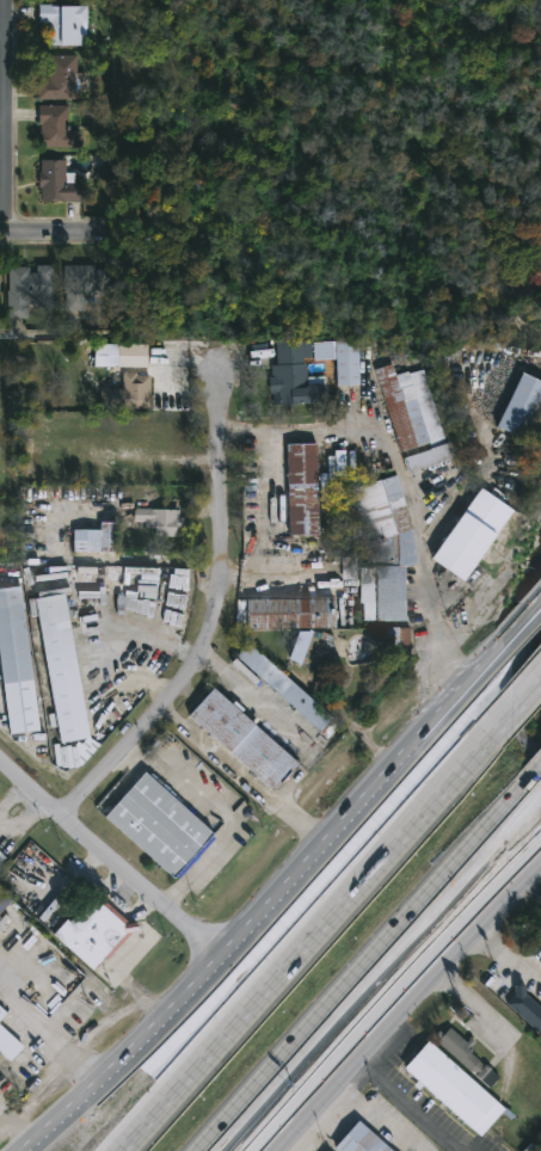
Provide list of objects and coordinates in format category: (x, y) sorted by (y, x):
building: (62, 24)
road: (2, 26)
building: (59, 78)
road: (5, 118)
road: (2, 125)
building: (53, 127)
building: (56, 183)
road: (59, 236)
building: (85, 279)
building: (25, 287)
building: (106, 356)
building: (339, 359)
building: (293, 377)
building: (128, 394)
building: (521, 406)
building: (408, 410)
building: (429, 457)
road: (407, 485)
building: (301, 491)
road: (264, 505)
building: (156, 522)
building: (472, 534)
building: (96, 540)
building: (382, 549)
road: (107, 561)
road: (273, 575)
building: (345, 575)
building: (288, 614)
road: (527, 615)
road: (216, 617)
road: (527, 620)
building: (398, 640)
building: (306, 648)
building: (14, 666)
building: (61, 685)
building: (282, 687)
road: (521, 703)
road: (266, 706)
building: (242, 740)
road: (241, 776)
road: (288, 784)
road: (225, 813)
road: (18, 819)
building: (155, 825)
building: (1, 858)
road: (111, 861)
road: (537, 876)
road: (275, 897)
building: (2, 903)
building: (92, 933)
road: (311, 938)
road: (447, 960)
road: (508, 960)
road: (377, 970)
road: (473, 1005)
building: (527, 1007)
building: (1, 1014)
building: (12, 1050)
building: (457, 1079)
road: (320, 1104)
road: (407, 1104)
road: (370, 1119)
road: (16, 1127)
building: (361, 1140)

